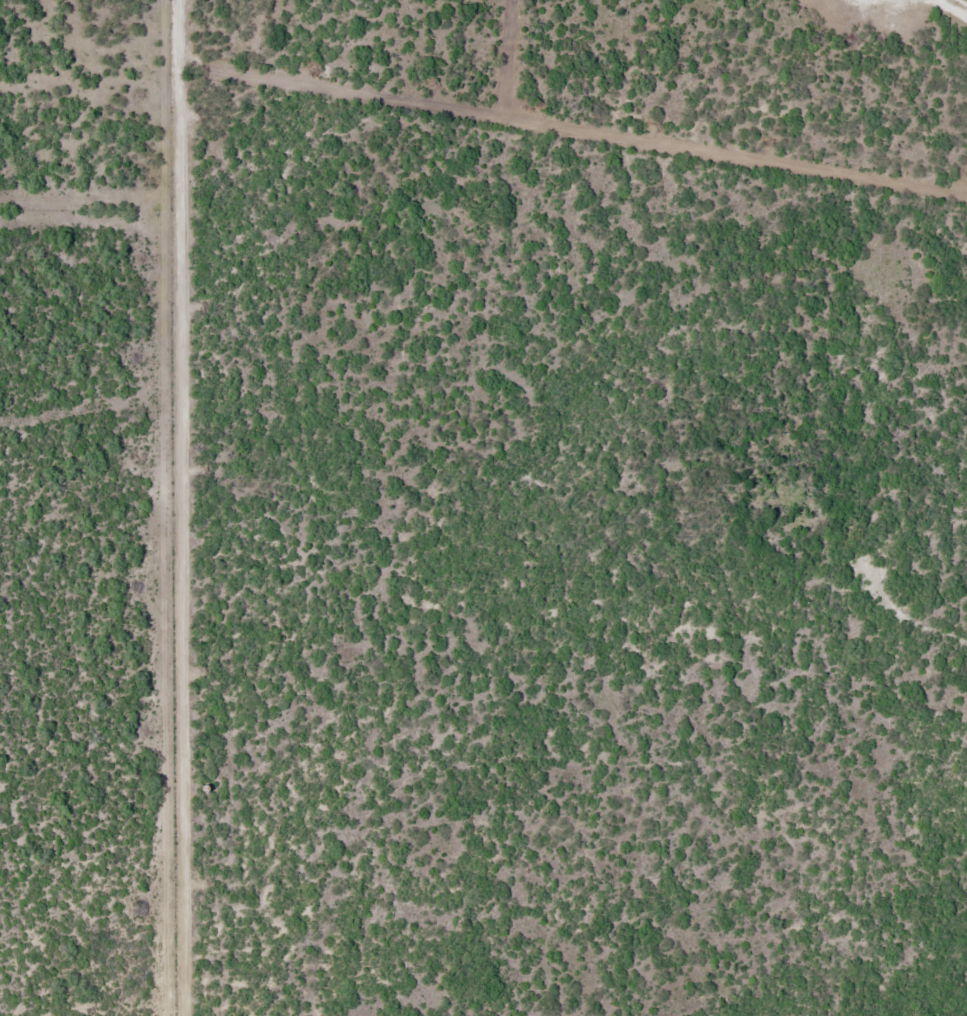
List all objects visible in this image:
road: (946, 10)

